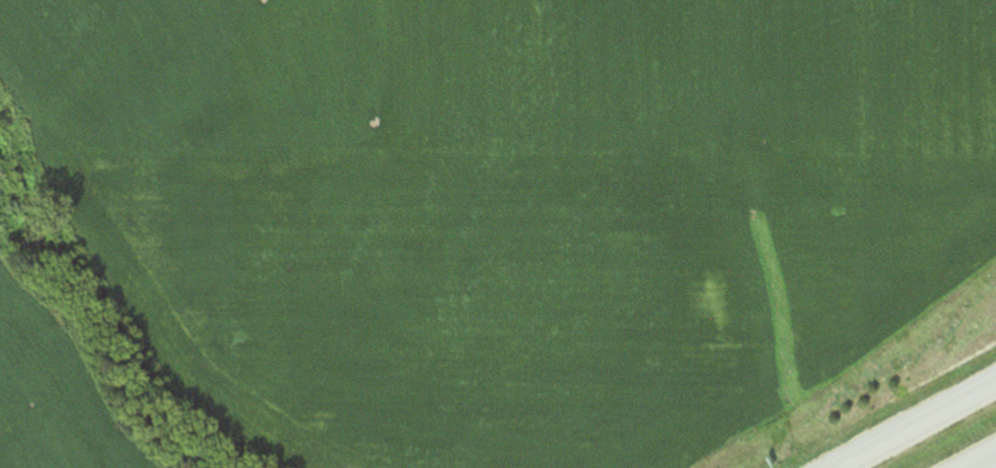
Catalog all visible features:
road: (916, 426)
road: (980, 460)

